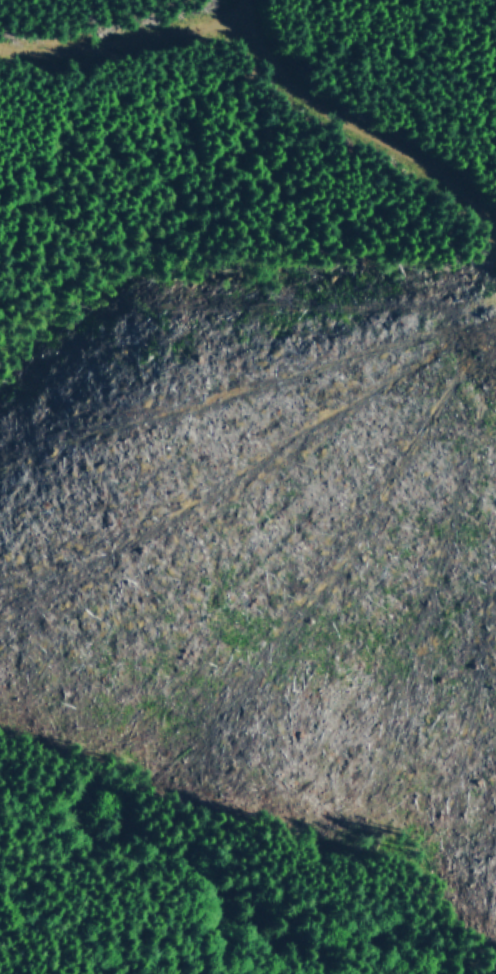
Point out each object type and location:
road: (366, 122)

